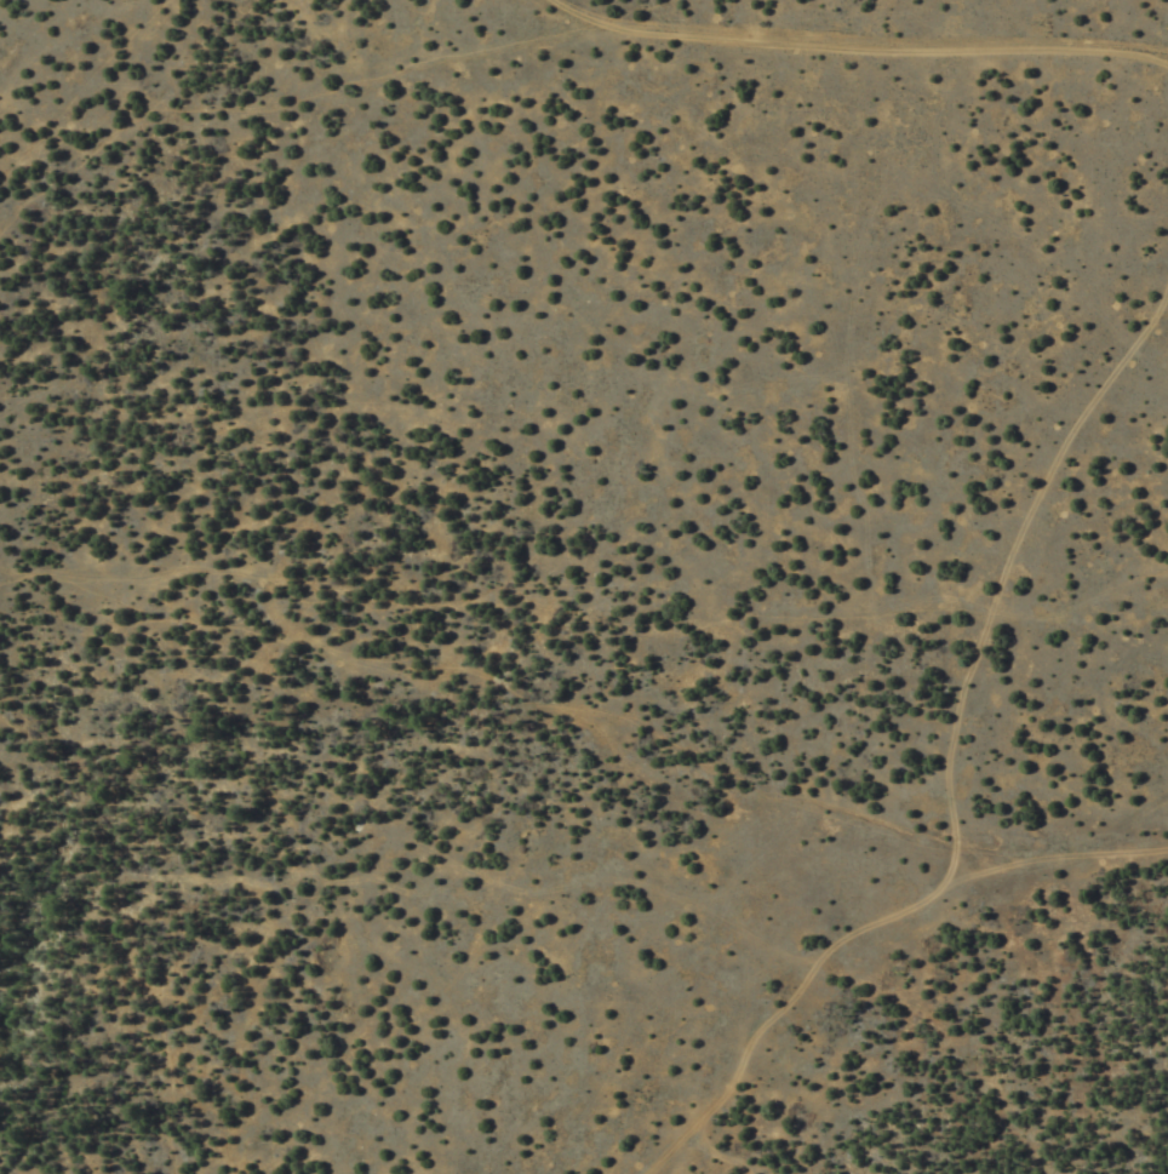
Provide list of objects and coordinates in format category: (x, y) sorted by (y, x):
road: (860, 42)

